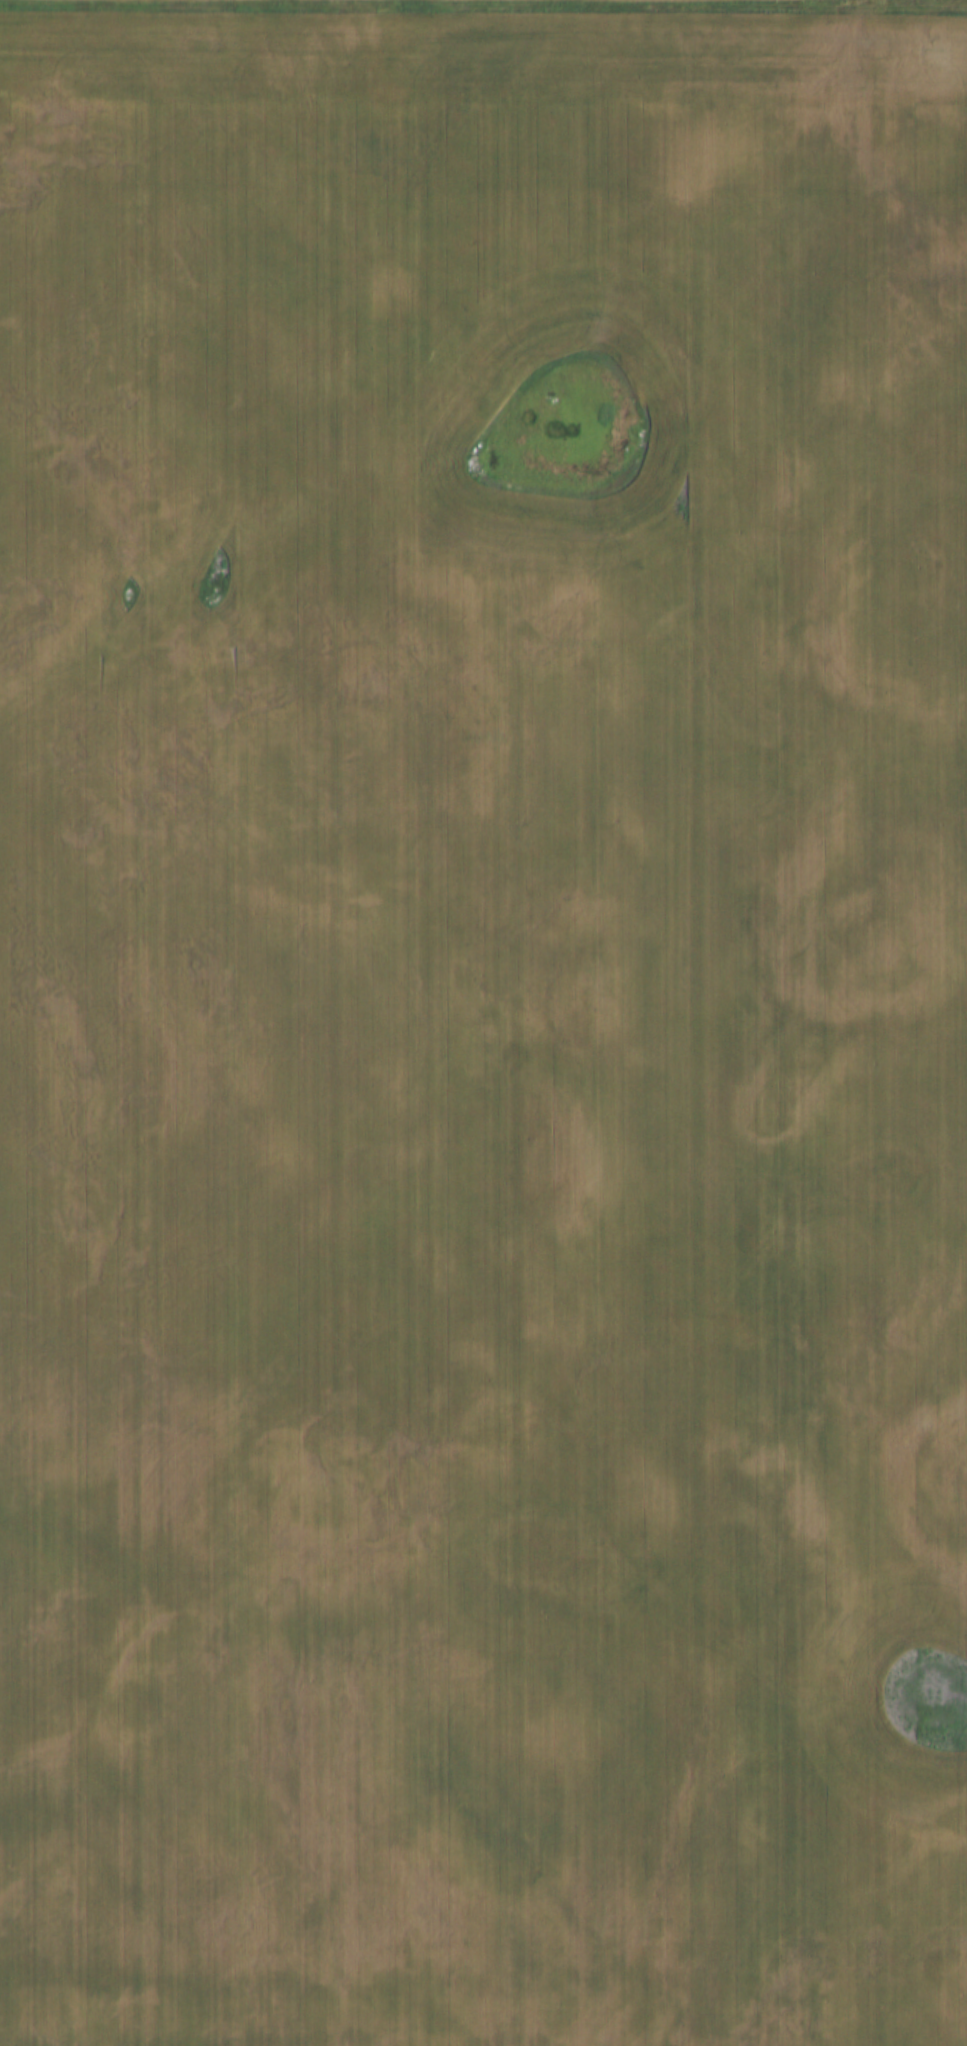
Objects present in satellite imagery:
road: (483, 1)

